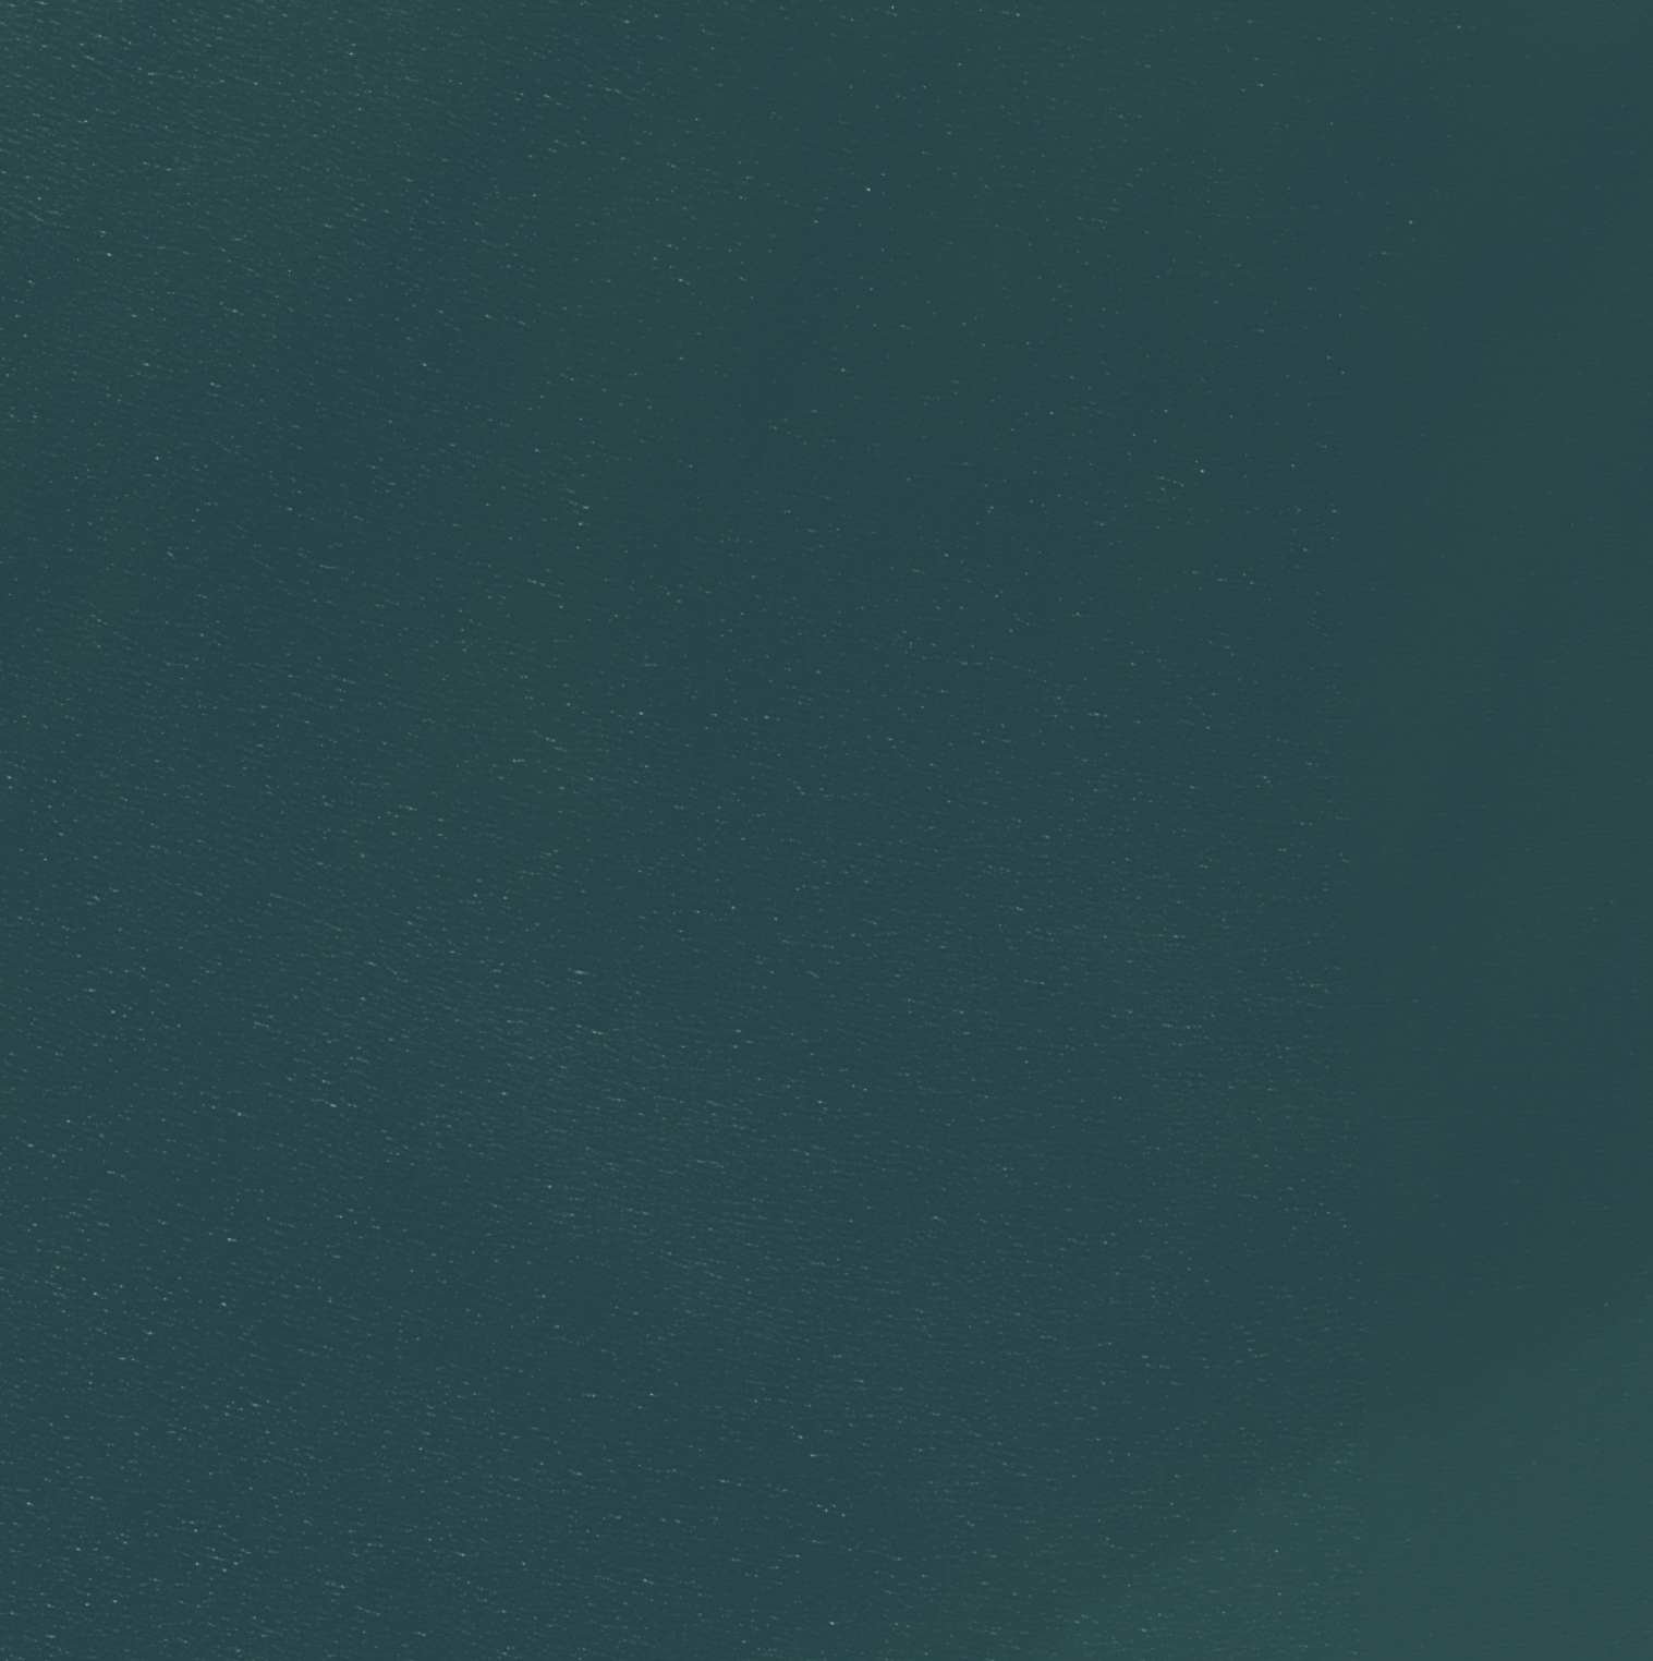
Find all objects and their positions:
river: (724, 1025)

